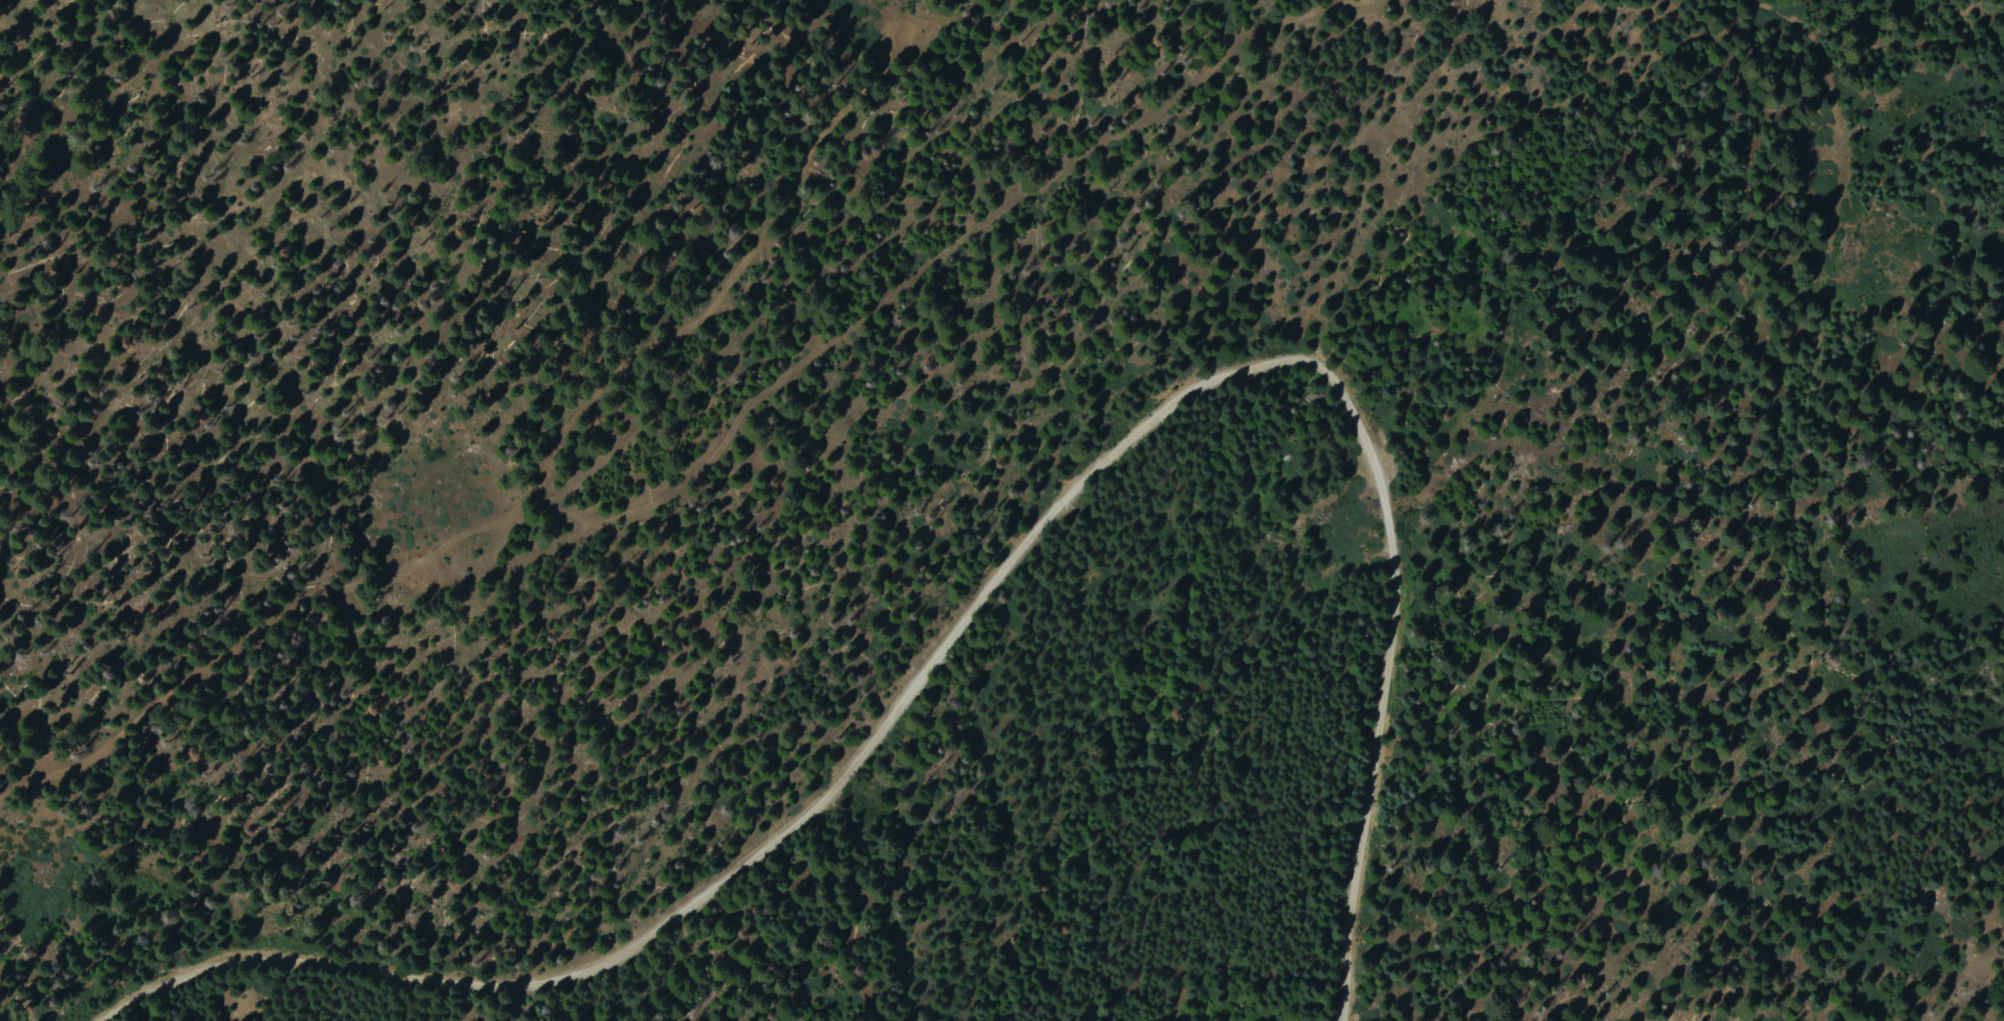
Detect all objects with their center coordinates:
road: (1000, 587)

